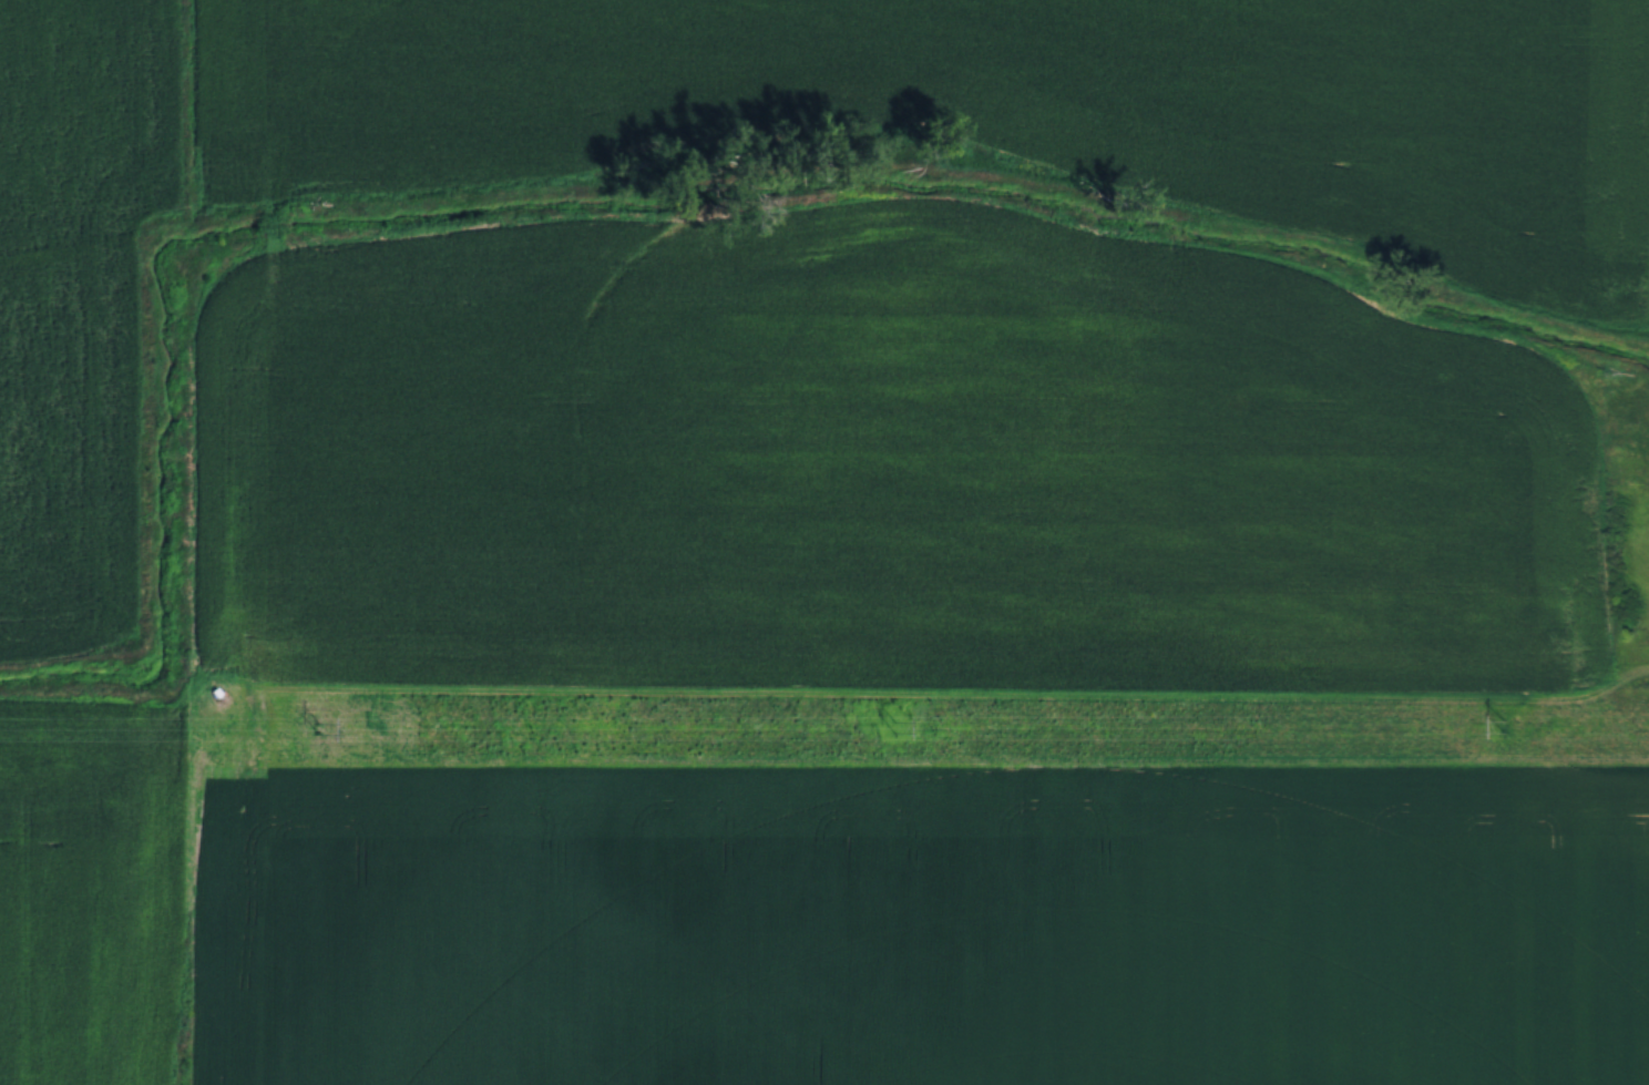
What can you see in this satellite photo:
power tower: (1505, 724)
power tower: (887, 726)
power tower: (316, 727)

